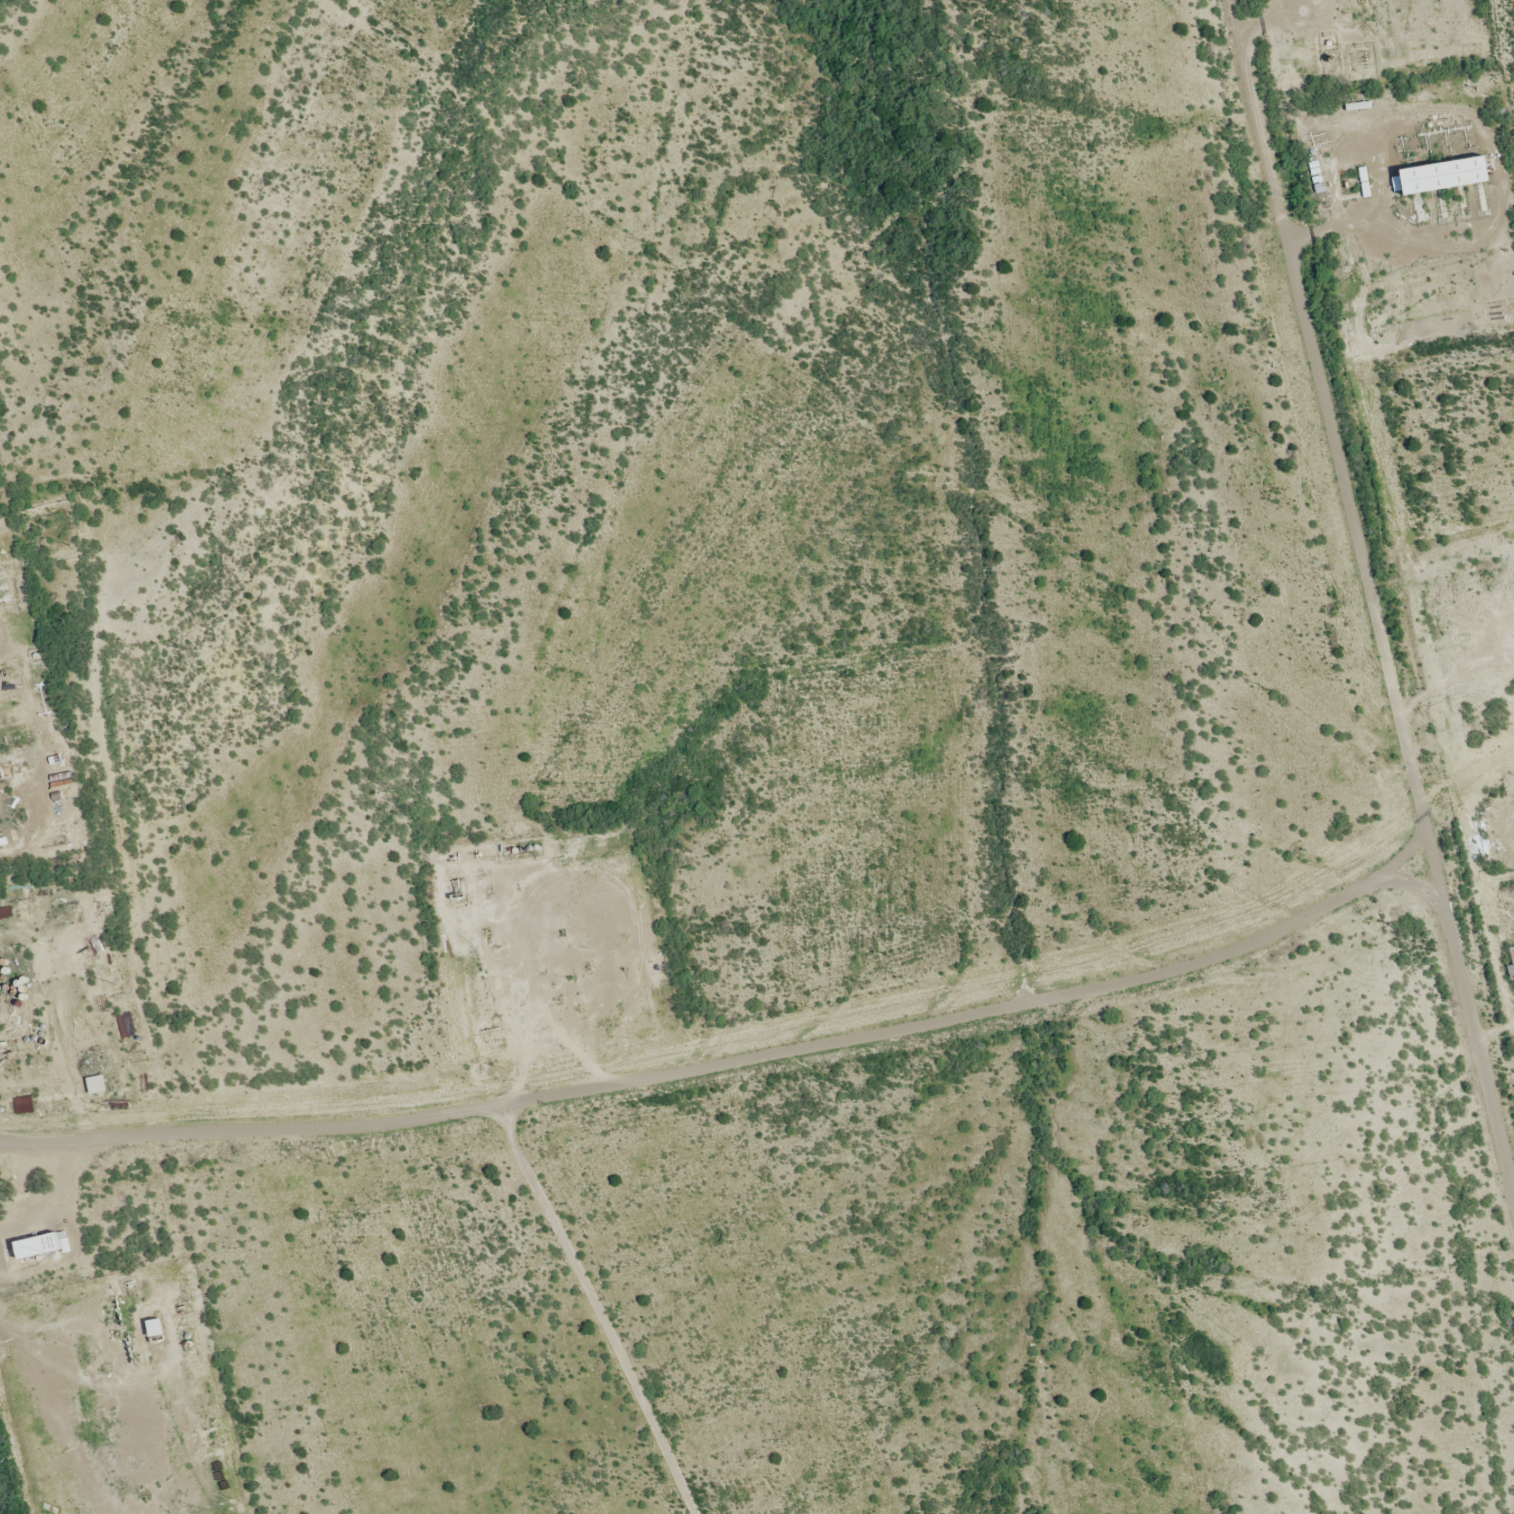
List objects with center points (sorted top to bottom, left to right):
building: (1444, 175)
road: (1371, 595)
building: (482, 881)
building: (456, 884)
road: (1495, 1034)
building: (97, 1087)
building: (38, 1245)
building: (156, 1327)

